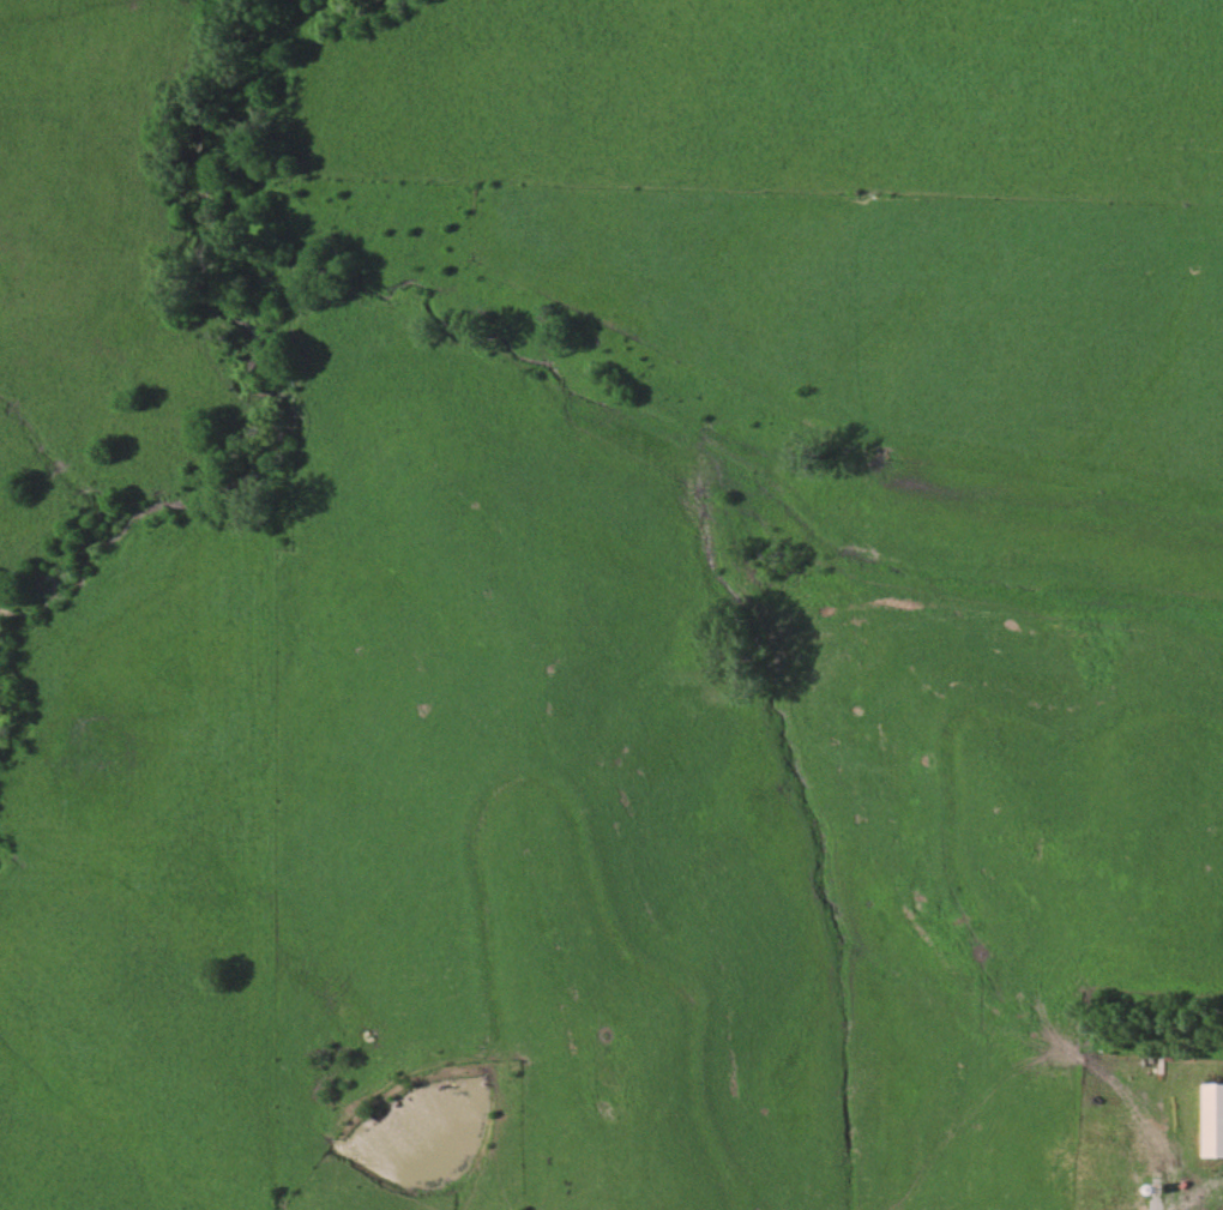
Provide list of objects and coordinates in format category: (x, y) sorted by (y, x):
building: (1215, 1120)

